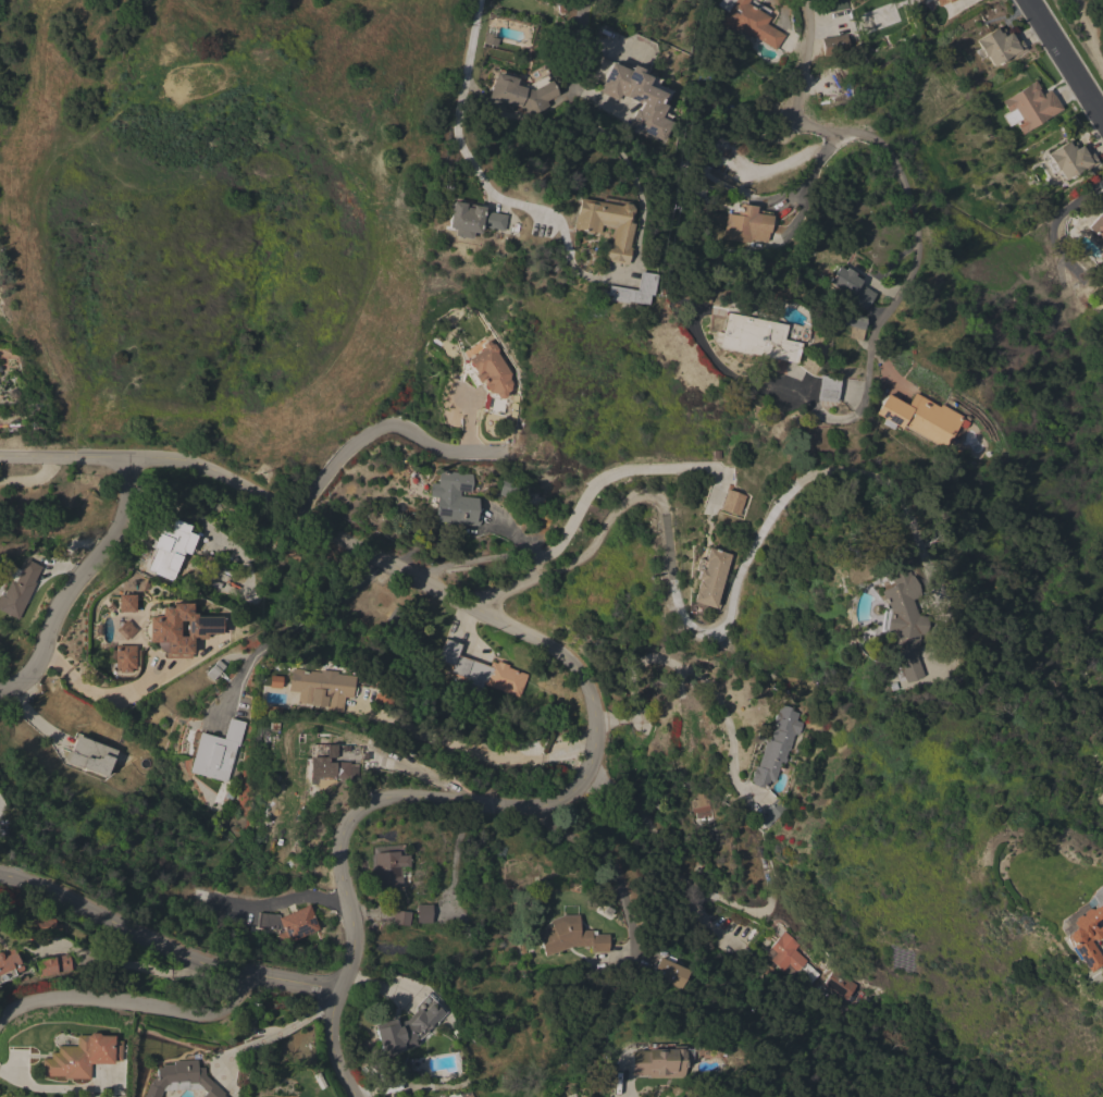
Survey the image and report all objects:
building: (941, 1)
building: (833, 4)
building: (748, 21)
building: (834, 45)
building: (999, 46)
road: (574, 47)
road: (1065, 57)
building: (850, 69)
building: (521, 93)
building: (641, 98)
building: (1029, 107)
building: (1070, 159)
road: (476, 170)
road: (811, 170)
road: (898, 173)
building: (472, 219)
building: (746, 224)
building: (606, 225)
building: (1096, 225)
building: (850, 286)
building: (634, 289)
building: (694, 293)
building: (852, 323)
building: (755, 337)
building: (489, 370)
building: (827, 389)
building: (919, 417)
road: (468, 427)
road: (387, 430)
building: (513, 490)
building: (454, 498)
building: (731, 502)
road: (567, 528)
building: (166, 548)
road: (545, 563)
building: (708, 577)
road: (77, 583)
building: (18, 590)
building: (124, 603)
road: (719, 623)
building: (201, 627)
building: (902, 627)
road: (277, 633)
building: (124, 657)
building: (214, 669)
building: (482, 670)
road: (696, 676)
road: (588, 682)
building: (320, 687)
road: (96, 693)
building: (776, 745)
road: (471, 749)
building: (216, 751)
building: (90, 755)
building: (336, 765)
building: (771, 812)
road: (647, 826)
road: (608, 864)
building: (389, 868)
building: (184, 896)
building: (198, 896)
road: (280, 901)
building: (423, 913)
building: (400, 917)
building: (289, 922)
building: (46, 926)
building: (1088, 932)
building: (570, 936)
road: (164, 947)
building: (790, 958)
building: (63, 962)
building: (9, 963)
building: (46, 966)
building: (669, 972)
building: (840, 984)
road: (129, 1004)
building: (407, 1026)
road: (277, 1032)
building: (82, 1057)
building: (658, 1062)
building: (182, 1080)
road: (625, 1089)

